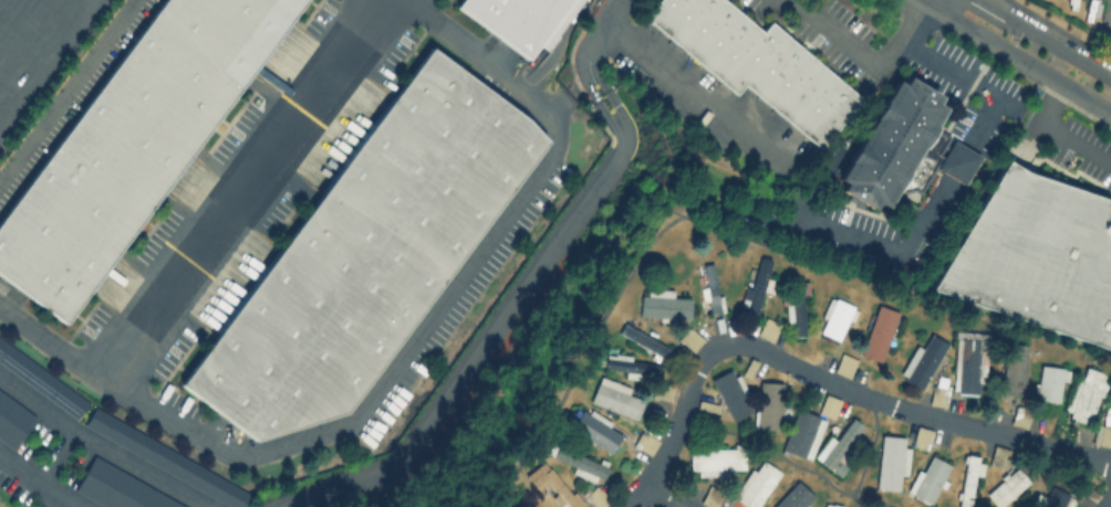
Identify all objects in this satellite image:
road: (407, 2)
road: (924, 2)
road: (931, 2)
building: (513, 19)
road: (1047, 38)
road: (843, 39)
road: (1020, 59)
road: (49, 65)
building: (761, 66)
road: (955, 73)
road: (693, 81)
road: (68, 91)
road: (568, 92)
road: (1022, 113)
road: (1059, 134)
building: (128, 142)
building: (903, 146)
road: (959, 161)
road: (240, 190)
road: (852, 234)
building: (366, 252)
building: (1035, 255)
road: (640, 257)
road: (528, 285)
building: (757, 286)
building: (663, 304)
building: (796, 309)
building: (835, 317)
building: (879, 332)
building: (691, 338)
road: (404, 355)
building: (923, 360)
building: (969, 360)
building: (844, 363)
building: (630, 366)
building: (1013, 367)
road: (817, 376)
building: (41, 381)
building: (1050, 382)
building: (663, 390)
building: (731, 393)
building: (1088, 393)
building: (615, 397)
building: (769, 404)
building: (829, 405)
building: (14, 419)
building: (593, 427)
building: (802, 433)
building: (922, 436)
road: (102, 445)
building: (837, 447)
road: (766, 448)
road: (870, 454)
road: (59, 455)
building: (999, 456)
building: (715, 460)
building: (168, 461)
building: (578, 462)
building: (891, 462)
building: (968, 477)
road: (41, 479)
building: (927, 479)
building: (552, 484)
building: (756, 485)
building: (1007, 486)
building: (124, 488)
road: (660, 495)
building: (795, 497)
building: (1055, 498)
building: (831, 505)
road: (1110, 505)

